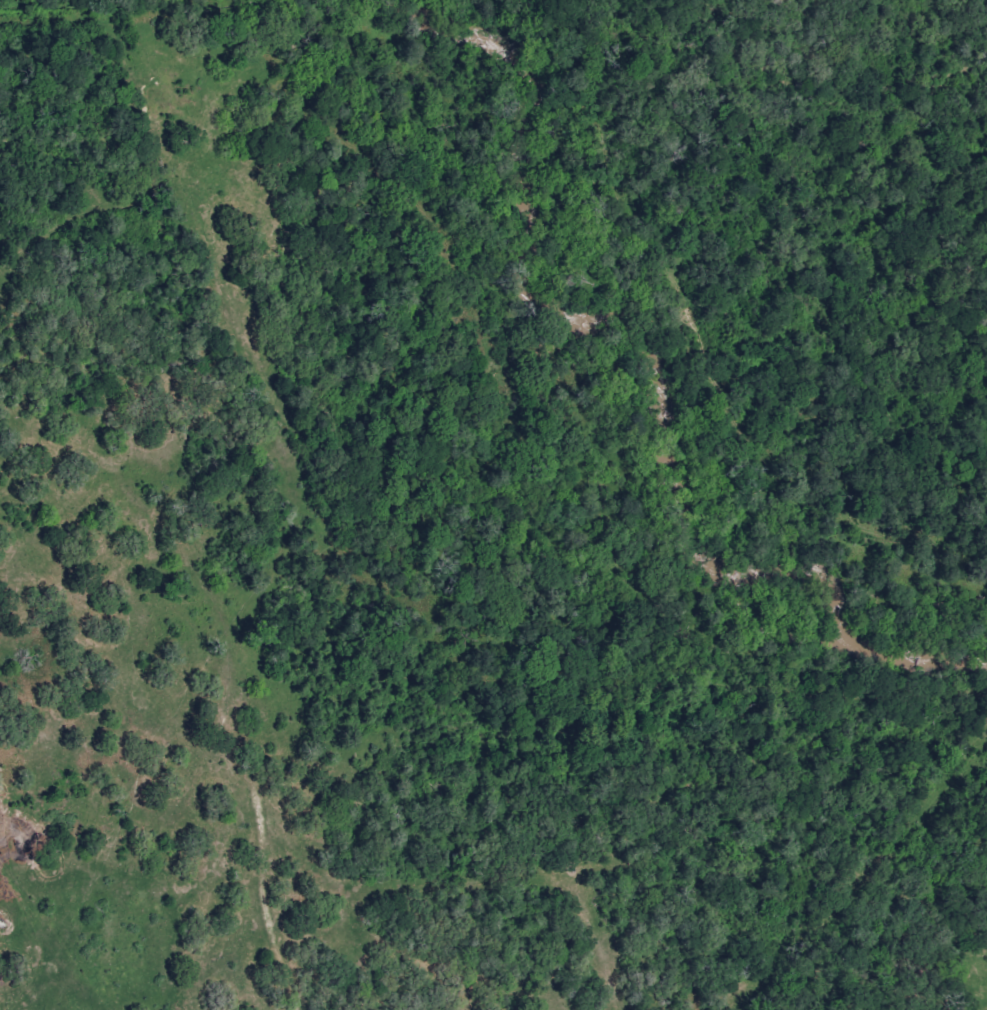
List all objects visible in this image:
river: (645, 394)

